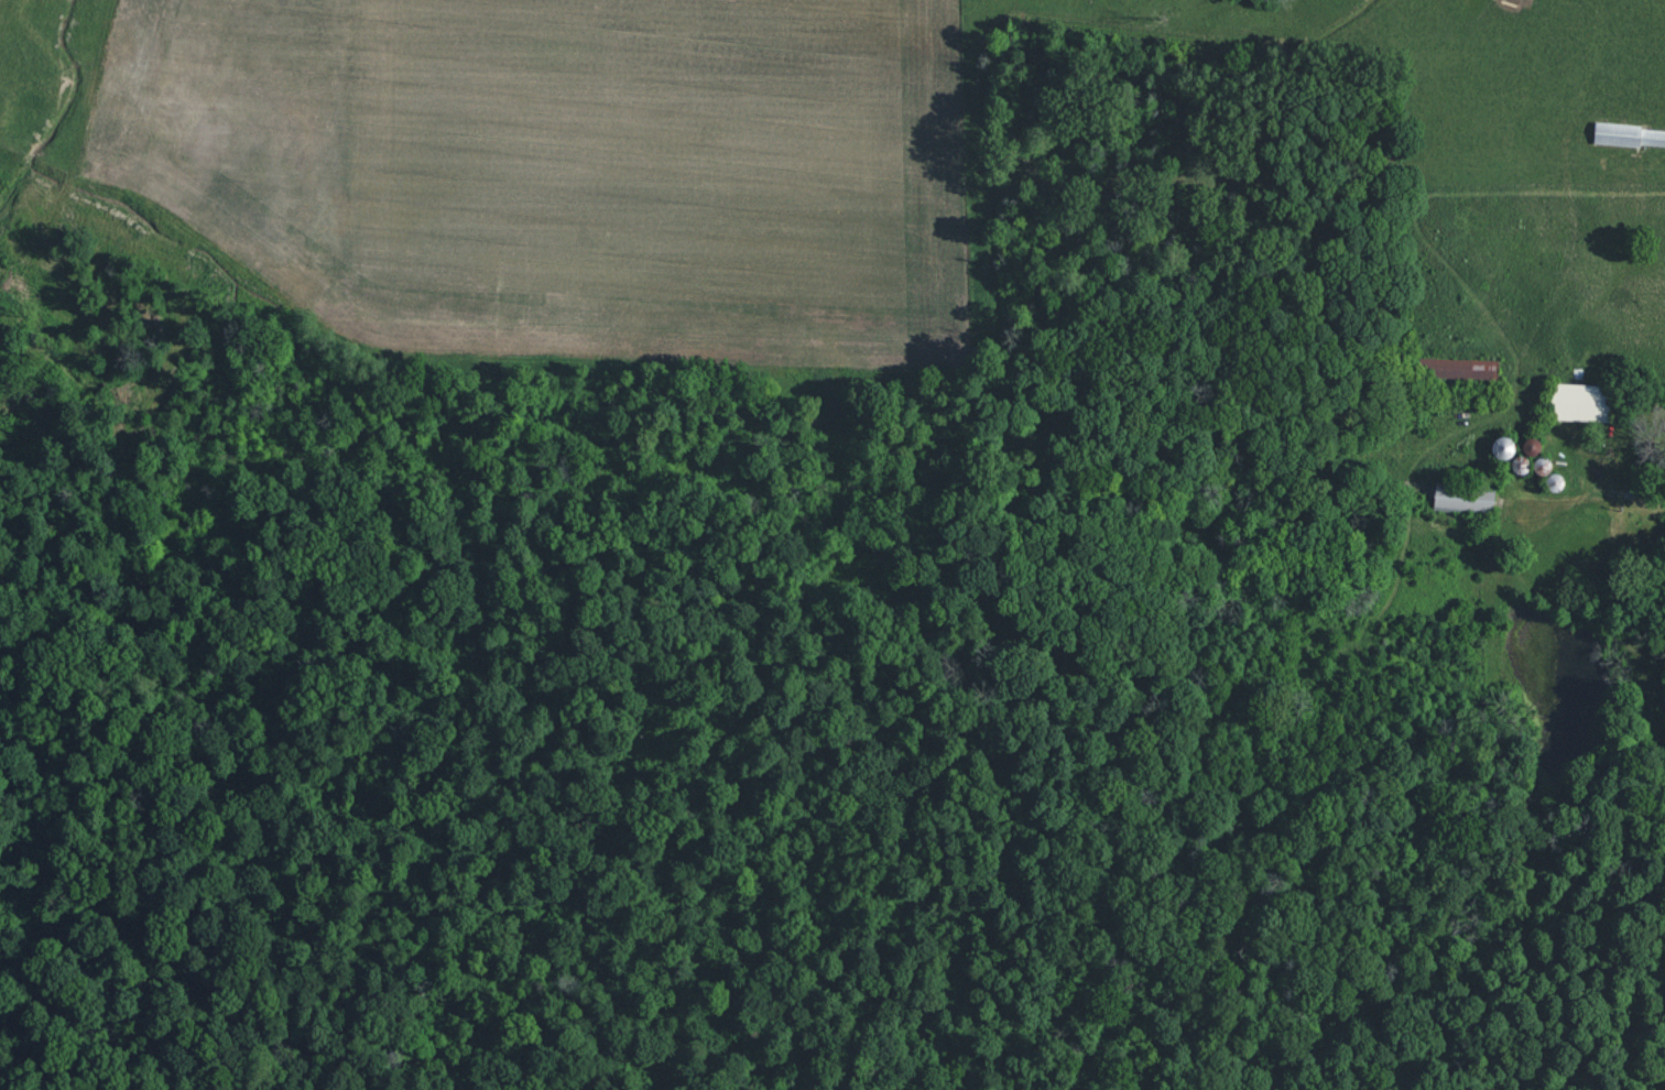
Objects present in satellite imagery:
building: (1582, 401)
building: (1465, 499)

